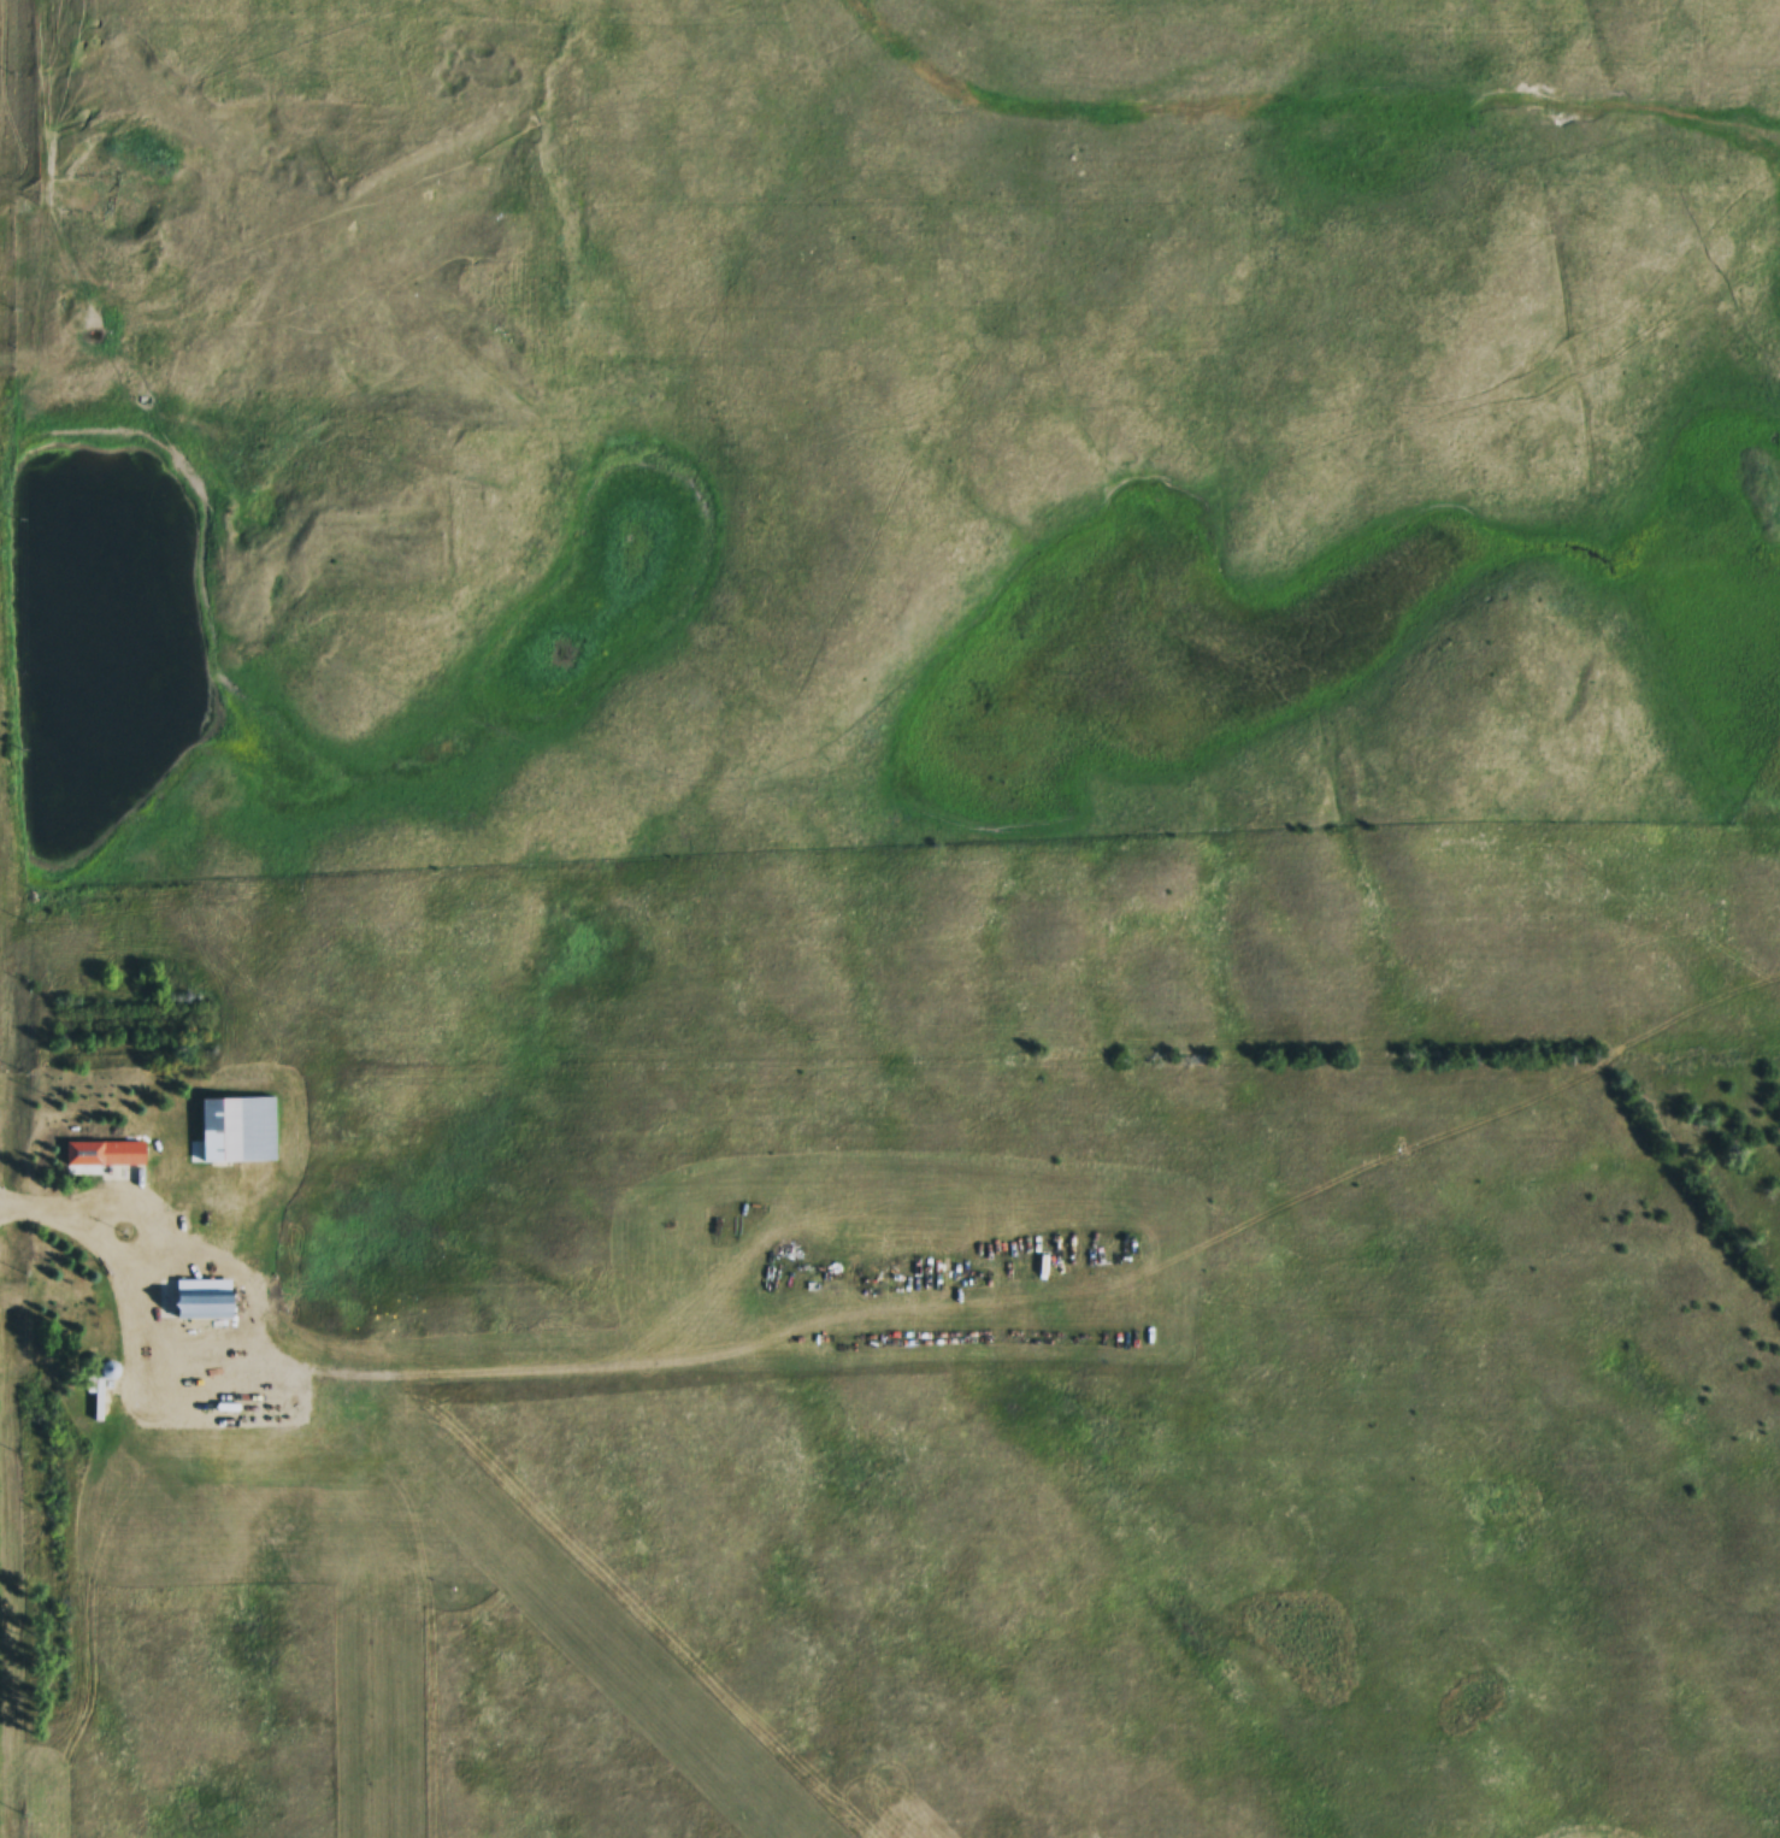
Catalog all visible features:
building: (241, 1123)
building: (104, 1160)
building: (198, 1303)
building: (120, 1490)
airport runway: (371, 1636)
airport runway: (578, 1657)

